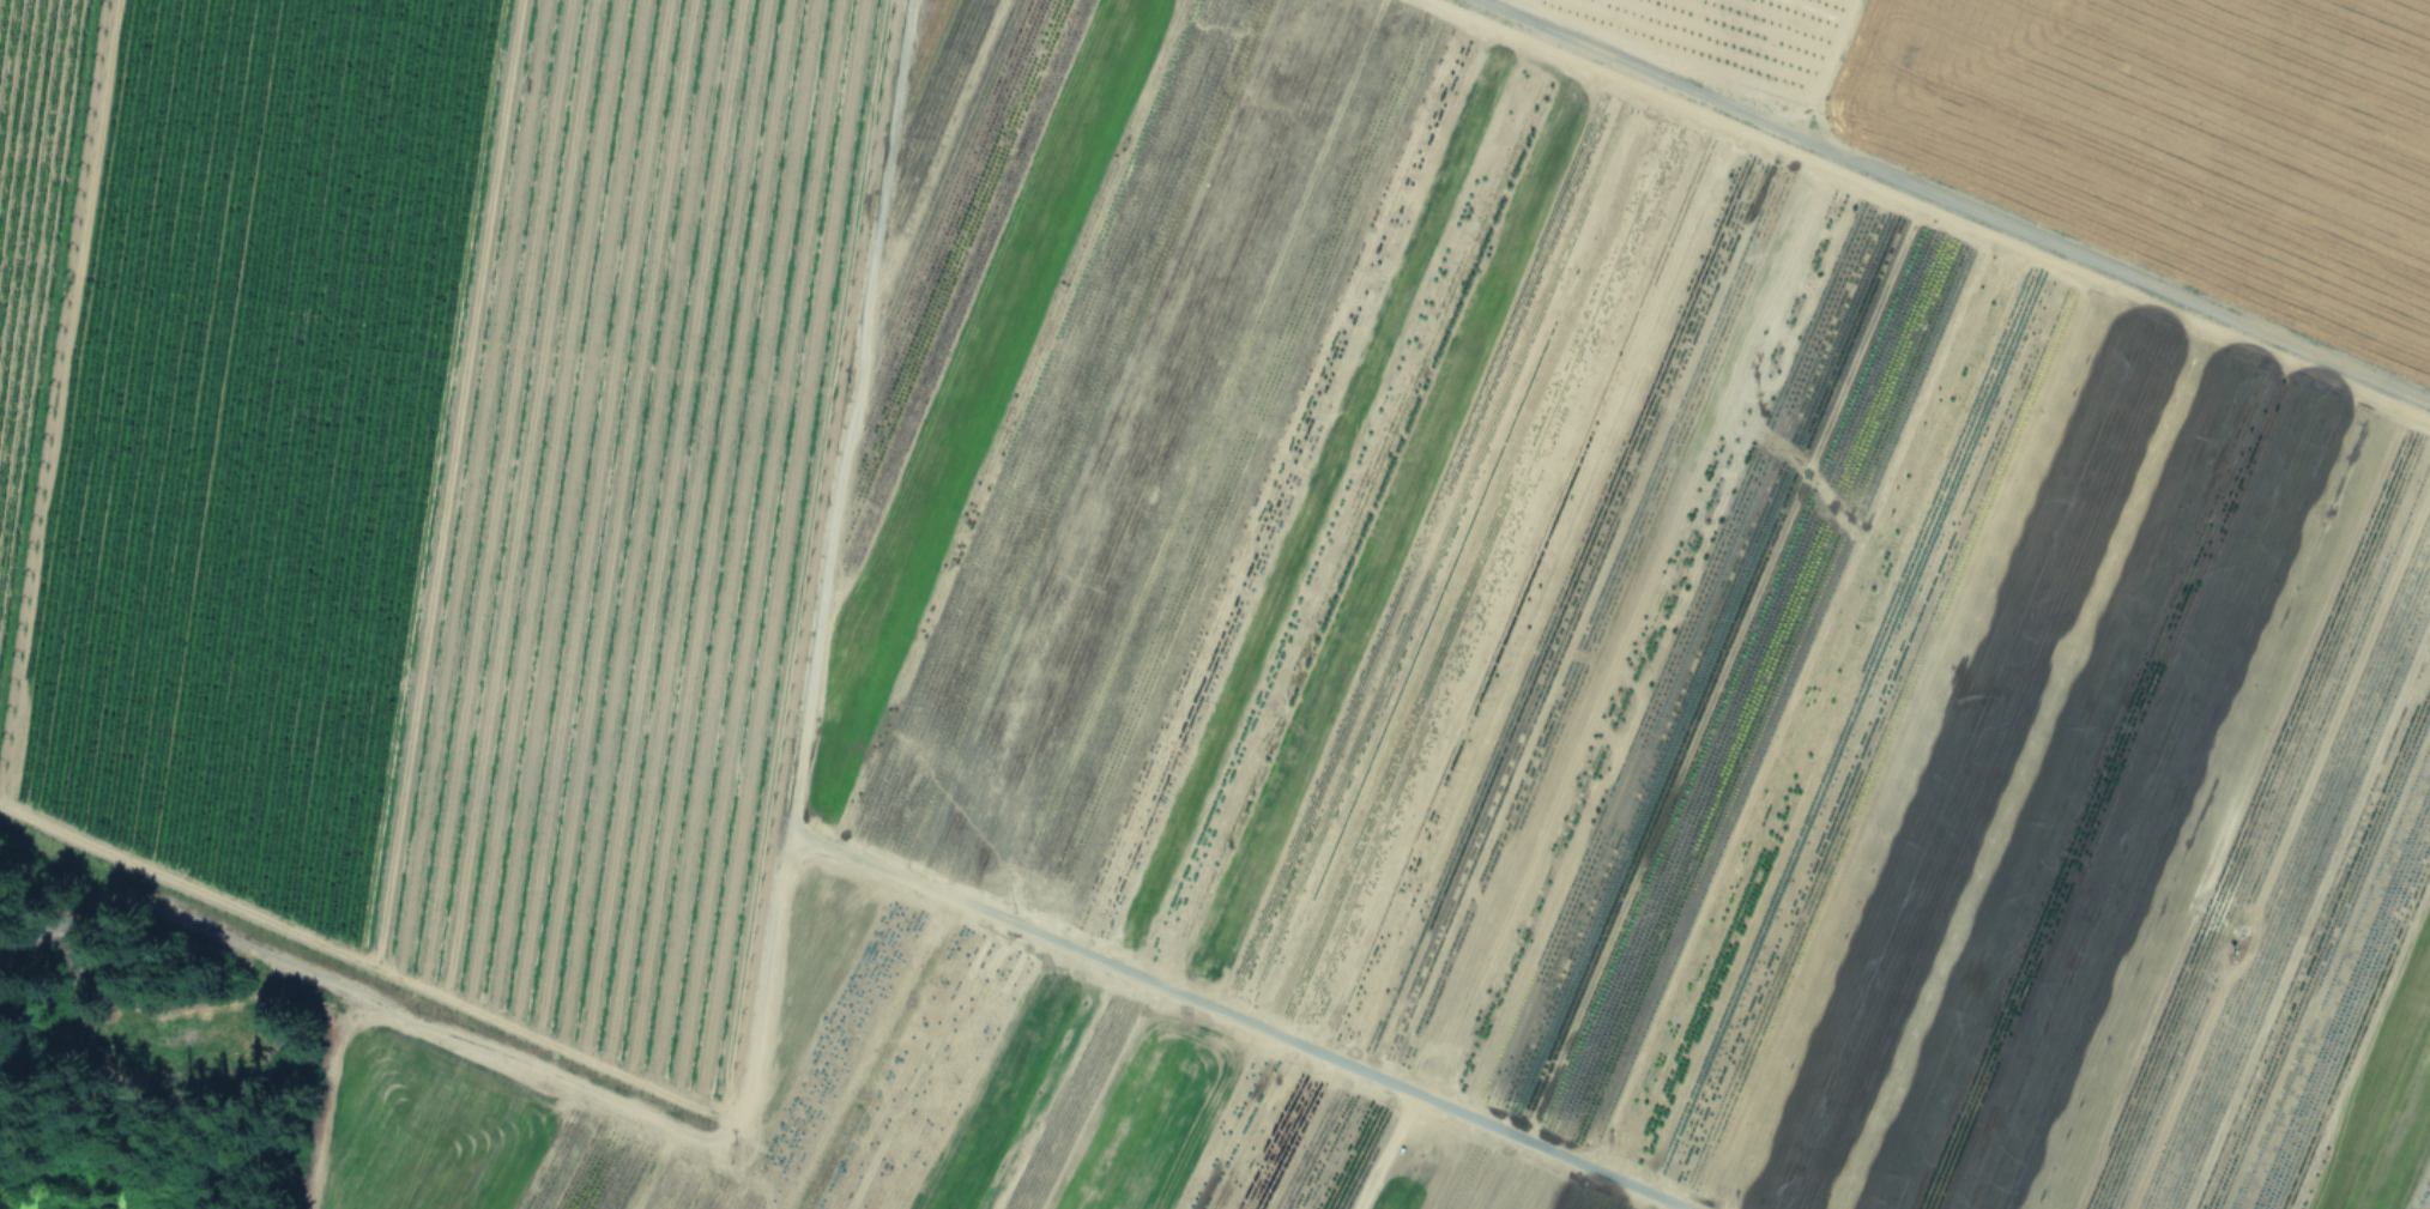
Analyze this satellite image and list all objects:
building: (584, 24)
building: (395, 29)
crop: (587, 35)
road: (489, 66)
road: (1948, 201)
crop: (32, 247)
building: (398, 500)
crop: (437, 516)
crop: (1589, 622)
road: (750, 939)

